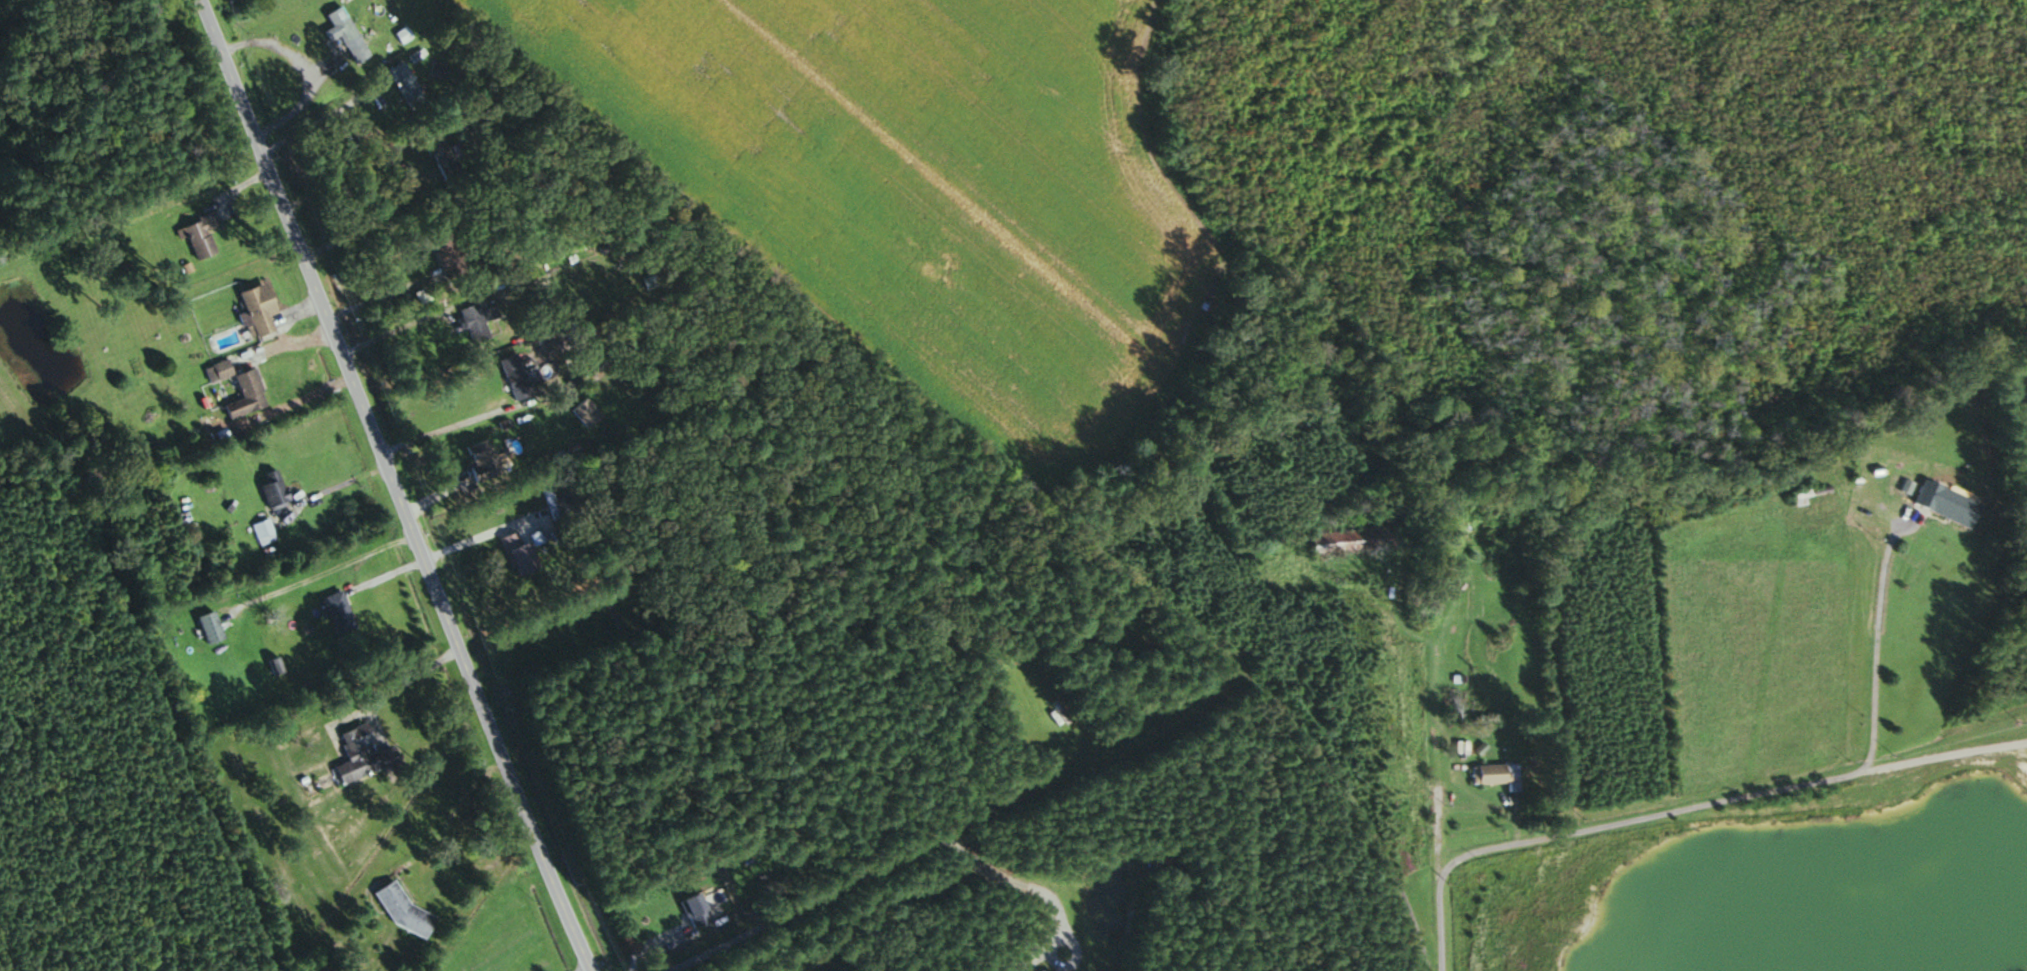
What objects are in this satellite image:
building: (340, 33)
building: (401, 84)
road: (318, 116)
building: (440, 156)
building: (202, 236)
road: (144, 276)
building: (261, 312)
building: (473, 320)
road: (393, 328)
building: (220, 372)
building: (511, 377)
building: (557, 380)
building: (250, 396)
building: (580, 413)
building: (478, 458)
road: (393, 485)
building: (268, 490)
building: (1797, 497)
building: (1942, 504)
building: (1852, 515)
road: (1905, 519)
building: (260, 532)
building: (1349, 541)
building: (512, 553)
road: (323, 571)
building: (333, 612)
road: (407, 681)
building: (357, 755)
building: (1493, 775)
road: (1717, 803)
building: (690, 910)
road: (651, 945)
road: (582, 968)

